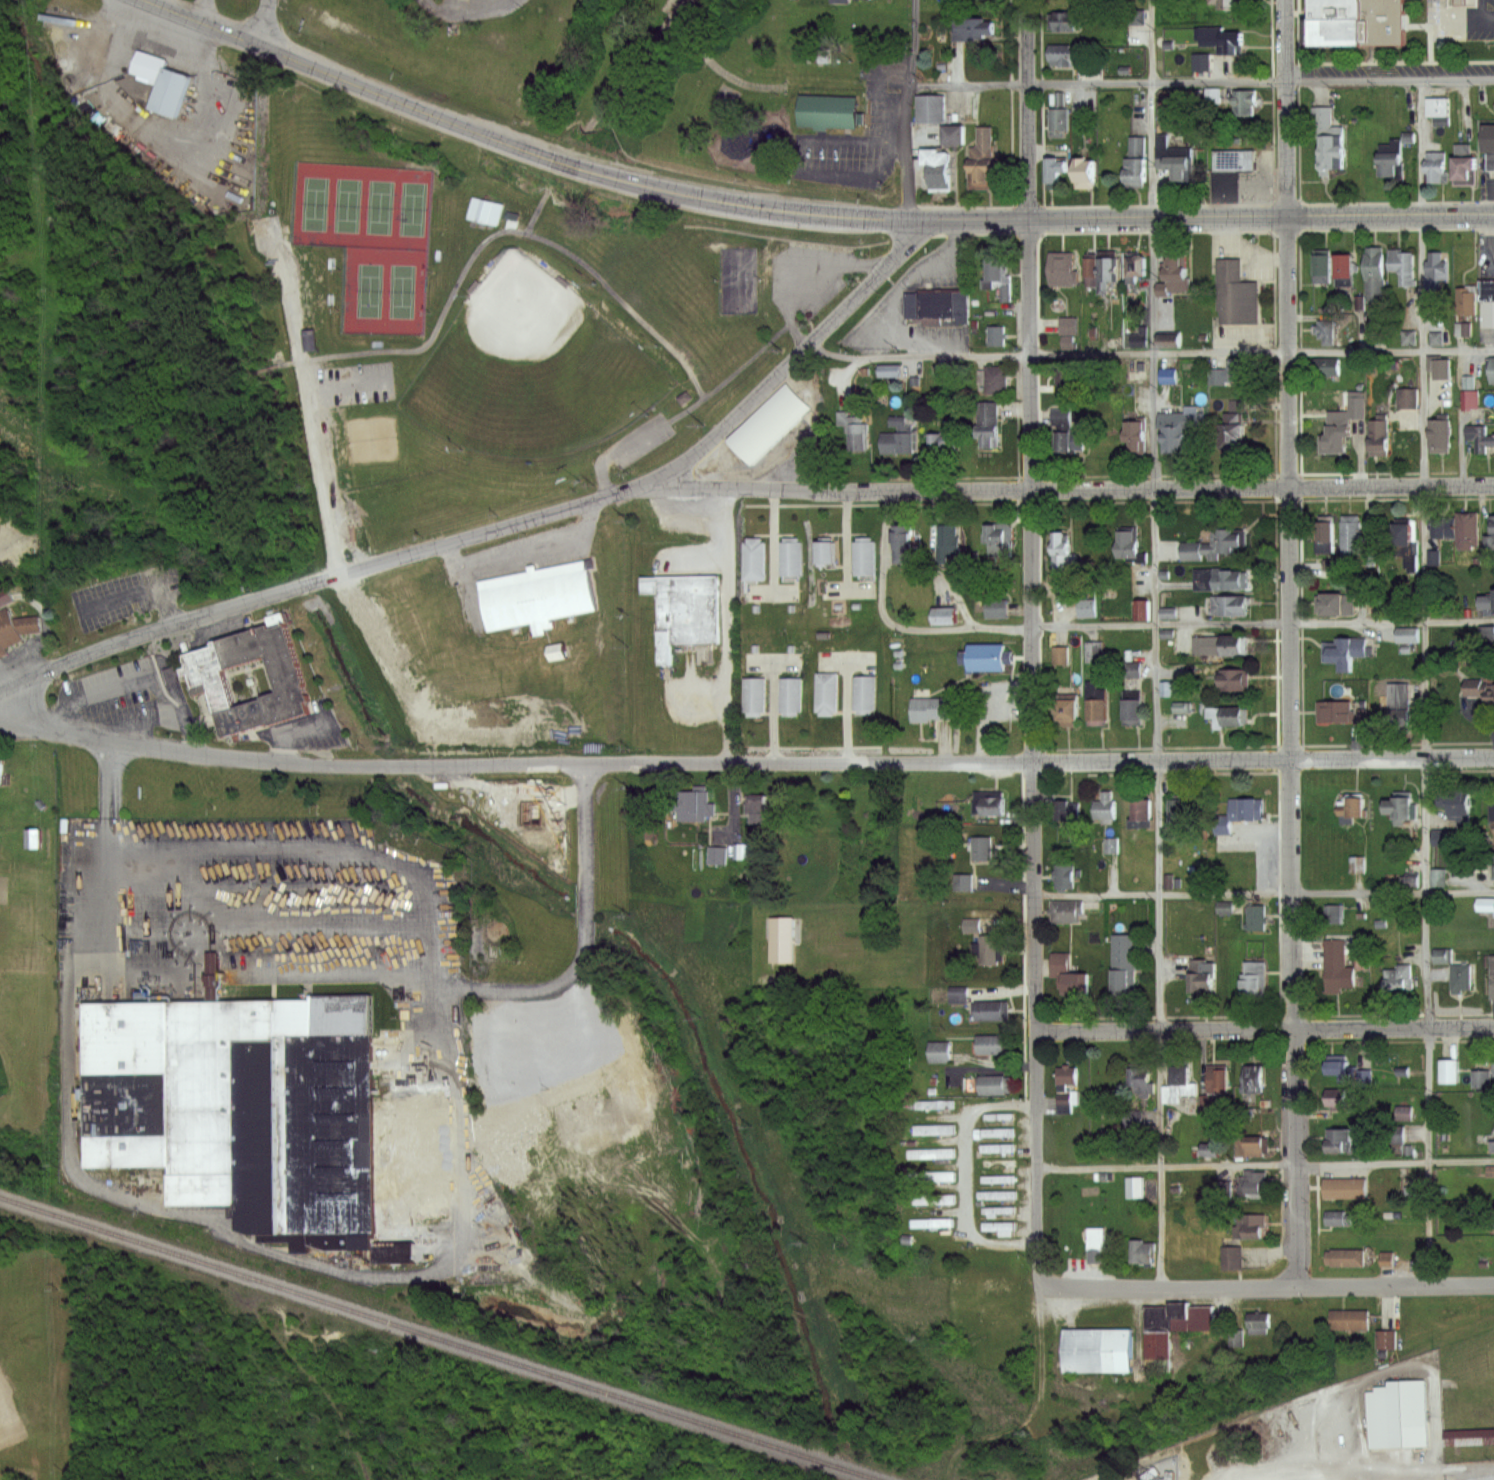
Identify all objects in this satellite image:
building: (847, 0)
building: (839, 1)
building: (1454, 2)
building: (1226, 4)
road: (463, 10)
road: (1480, 10)
road: (207, 11)
building: (1136, 17)
building: (1063, 20)
road: (1463, 20)
road: (1487, 21)
building: (1356, 22)
road: (266, 23)
parking lot: (1466, 23)
building: (972, 29)
building: (1220, 40)
building: (819, 55)
building: (1064, 55)
road: (719, 62)
road: (625, 65)
road: (335, 74)
road: (1390, 78)
road: (1099, 79)
building: (162, 85)
building: (1054, 99)
building: (1244, 101)
park: (718, 104)
road: (1286, 108)
road: (912, 109)
building: (931, 109)
road: (1028, 109)
building: (829, 110)
building: (1438, 110)
building: (1058, 115)
parking lot: (867, 126)
building: (1490, 133)
building: (953, 135)
building: (982, 146)
building: (1332, 152)
building: (1234, 160)
building: (1491, 161)
building: (1463, 162)
building: (1134, 163)
building: (1174, 163)
building: (1436, 167)
building: (1391, 168)
building: (1053, 170)
building: (1082, 170)
building: (981, 175)
building: (938, 179)
road: (538, 206)
building: (482, 209)
building: (512, 217)
road: (1004, 219)
park: (370, 234)
building: (1321, 265)
building: (1343, 266)
building: (1136, 267)
building: (1403, 267)
building: (1062, 269)
building: (1089, 272)
building: (1105, 272)
building: (1374, 272)
parking lot: (804, 273)
building: (1438, 275)
park: (738, 276)
building: (998, 279)
building: (1174, 281)
road: (900, 284)
building: (1236, 295)
building: (1467, 301)
building: (1489, 303)
road: (293, 305)
building: (938, 308)
building: (1369, 326)
building: (1068, 327)
building: (1325, 332)
building: (996, 336)
building: (1139, 338)
building: (312, 339)
park: (354, 340)
building: (1169, 342)
road: (675, 353)
road: (1151, 354)
park: (532, 366)
building: (1439, 366)
building: (1325, 367)
building: (1492, 370)
building: (890, 371)
building: (1231, 372)
building: (1062, 374)
building: (1170, 376)
building: (996, 380)
road: (339, 384)
parking lot: (347, 385)
building: (1493, 397)
building: (1409, 398)
building: (1468, 398)
road: (307, 402)
building: (1350, 407)
road: (684, 410)
building: (1059, 416)
building: (767, 422)
building: (986, 426)
building: (1179, 428)
building: (854, 432)
building: (1441, 436)
building: (1135, 437)
building: (1335, 437)
park: (371, 438)
building: (1232, 438)
building: (1379, 438)
building: (1482, 438)
building: (899, 440)
parking lot: (633, 442)
building: (1069, 442)
building: (942, 446)
road: (146, 459)
road: (1061, 489)
building: (1493, 520)
road: (508, 528)
building: (1468, 530)
building: (1404, 536)
building: (1325, 537)
building: (998, 541)
building: (1358, 543)
building: (947, 545)
building: (1221, 545)
building: (826, 546)
building: (902, 546)
building: (1132, 546)
building: (864, 552)
building: (791, 554)
building: (753, 555)
building: (1061, 555)
parking lot: (515, 560)
building: (1231, 579)
building: (537, 591)
parking lot: (126, 593)
building: (8, 597)
building: (1487, 604)
building: (684, 605)
building: (1335, 605)
building: (1230, 606)
building: (1084, 607)
building: (992, 608)
building: (1138, 609)
building: (938, 615)
road: (1123, 623)
road: (727, 627)
building: (17, 631)
building: (1404, 635)
building: (1487, 640)
road: (1156, 642)
building: (1221, 645)
building: (1091, 651)
building: (1345, 651)
building: (1056, 655)
building: (985, 658)
building: (1127, 669)
building: (251, 677)
road: (1426, 679)
building: (1235, 680)
road: (130, 681)
building: (827, 687)
building: (864, 688)
building: (755, 690)
building: (791, 690)
building: (1491, 693)
building: (931, 704)
building: (1179, 707)
building: (1397, 709)
building: (1067, 710)
building: (1097, 711)
building: (1335, 712)
building: (1133, 713)
building: (1229, 716)
road: (1291, 749)
road: (1032, 751)
road: (742, 762)
building: (3, 775)
building: (692, 805)
building: (991, 805)
building: (1246, 808)
building: (1492, 808)
building: (757, 809)
building: (1354, 809)
building: (1103, 810)
building: (1068, 811)
building: (1403, 811)
building: (1140, 812)
building: (1459, 812)
building: (1177, 815)
building: (36, 838)
road: (330, 843)
building: (982, 849)
building: (713, 854)
crop: (531, 861)
building: (1356, 863)
building: (1491, 865)
building: (1062, 873)
building: (1436, 877)
building: (1408, 880)
building: (959, 881)
road: (272, 888)
road: (1460, 891)
road: (1163, 892)
road: (1359, 892)
building: (1485, 905)
parking lot: (249, 906)
building: (1065, 909)
building: (1332, 913)
building: (1256, 916)
building: (967, 925)
road: (278, 931)
building: (512, 932)
building: (782, 941)
building: (991, 948)
building: (1123, 961)
building: (1337, 964)
building: (1491, 972)
building: (1069, 974)
building: (1201, 974)
building: (1399, 976)
building: (1462, 976)
building: (1252, 978)
road: (440, 987)
building: (956, 999)
building: (993, 1009)
road: (1265, 1024)
building: (990, 1043)
building: (937, 1051)
building: (1450, 1070)
building: (1180, 1073)
building: (1352, 1073)
building: (1066, 1074)
building: (1481, 1076)
building: (1217, 1078)
building: (1142, 1079)
building: (1253, 1080)
building: (995, 1081)
building: (1336, 1097)
building: (1064, 1099)
building: (1208, 1102)
building: (933, 1105)
building: (1400, 1112)
building: (997, 1117)
building: (1132, 1118)
building: (268, 1119)
building: (932, 1129)
building: (995, 1133)
building: (1394, 1134)
building: (1493, 1137)
building: (1340, 1139)
building: (1253, 1146)
building: (995, 1149)
building: (1201, 1150)
building: (929, 1153)
building: (995, 1164)
road: (1266, 1166)
building: (1489, 1170)
road: (968, 1173)
building: (942, 1175)
building: (995, 1179)
building: (1251, 1182)
building: (1134, 1186)
building: (1221, 1187)
building: (1344, 1187)
building: (994, 1195)
building: (931, 1198)
building: (996, 1210)
road: (179, 1212)
building: (1337, 1216)
building: (1492, 1216)
building: (931, 1223)
building: (1248, 1225)
building: (996, 1227)
building: (1094, 1243)
building: (1141, 1250)
building: (1345, 1256)
building: (1231, 1257)
road: (1266, 1283)
road: (1267, 1291)
building: (1260, 1319)
building: (1349, 1319)
building: (1170, 1327)
building: (1233, 1336)
building: (1386, 1338)
railway: (438, 1339)
building: (1097, 1352)
road: (1034, 1407)
building: (1397, 1414)
building: (1469, 1436)
road: (1468, 1467)
road: (1266, 1469)
road: (1378, 1472)
road: (1313, 1477)

